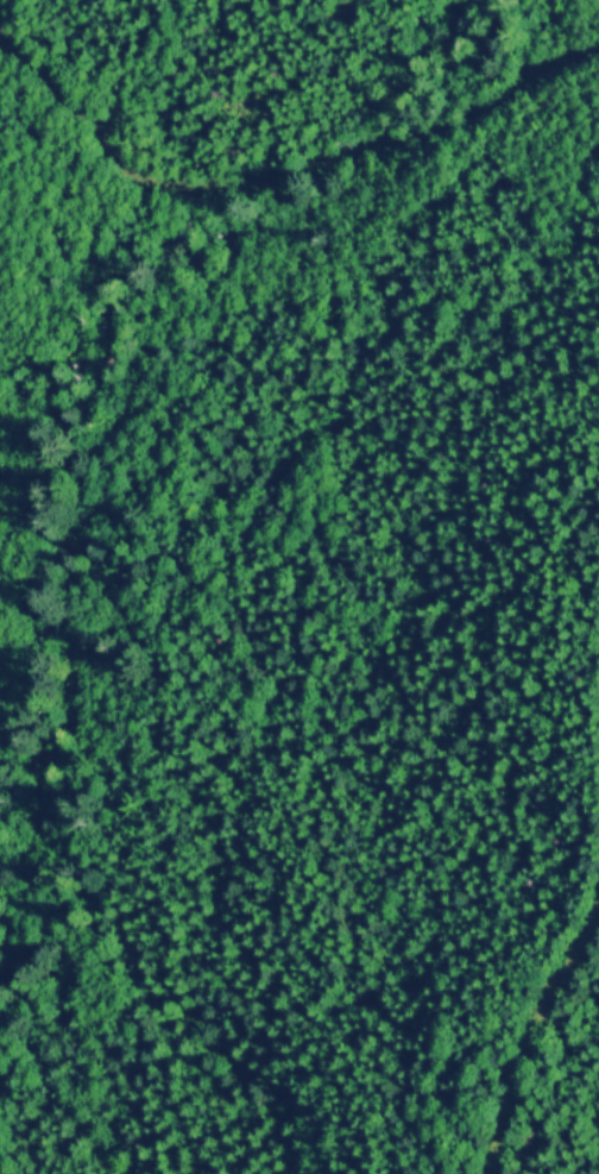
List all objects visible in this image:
road: (147, 71)
road: (279, 175)
road: (535, 1037)

